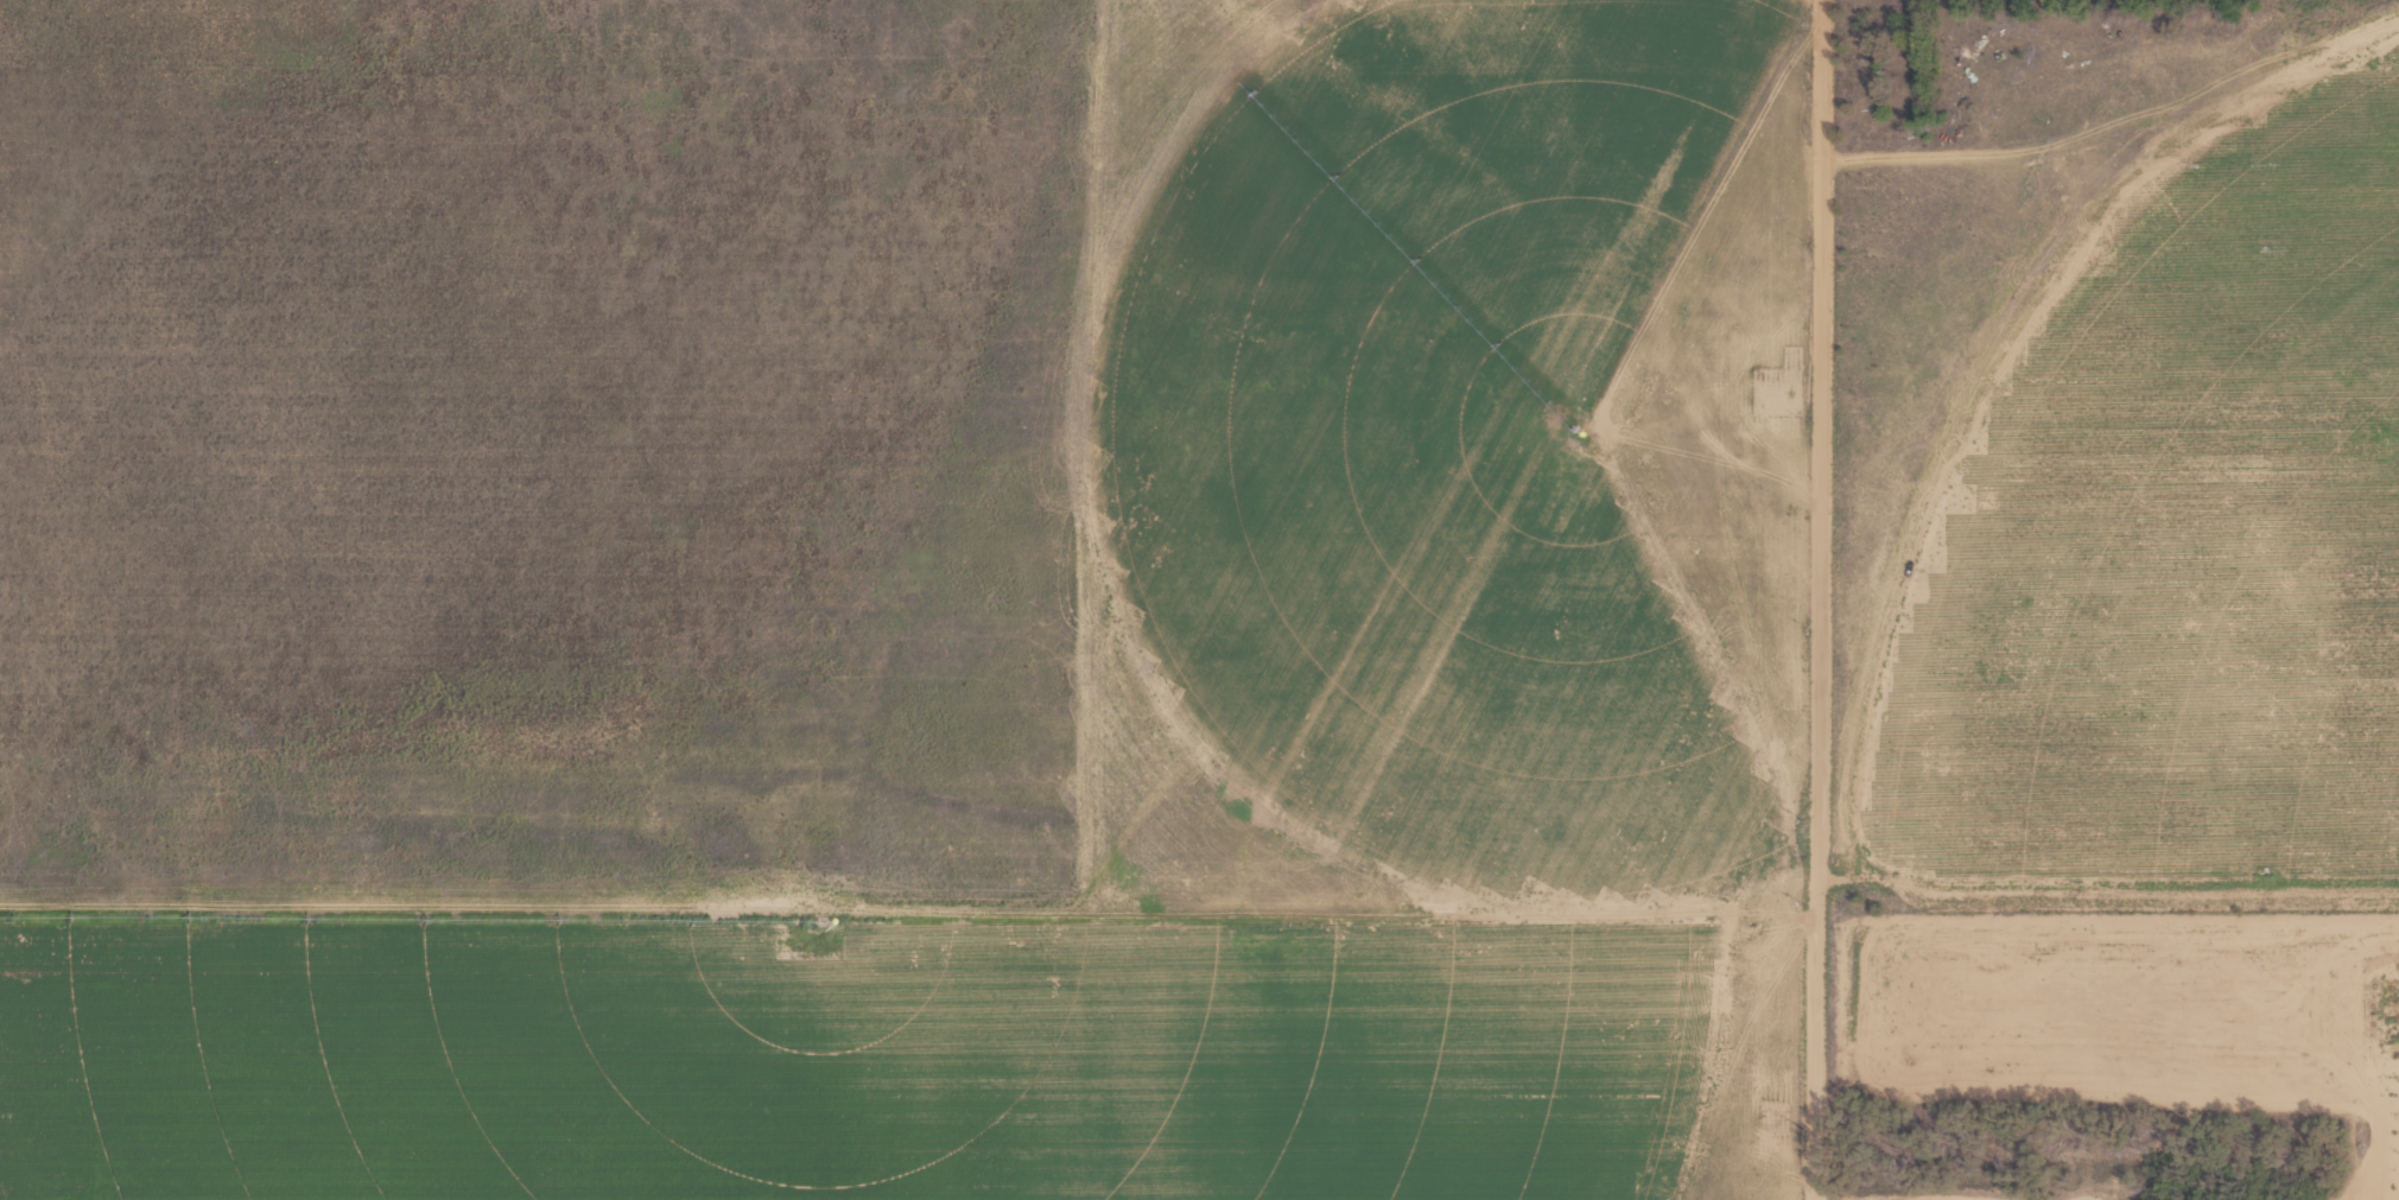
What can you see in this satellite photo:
crop: (1199, 599)
road: (1819, 599)

